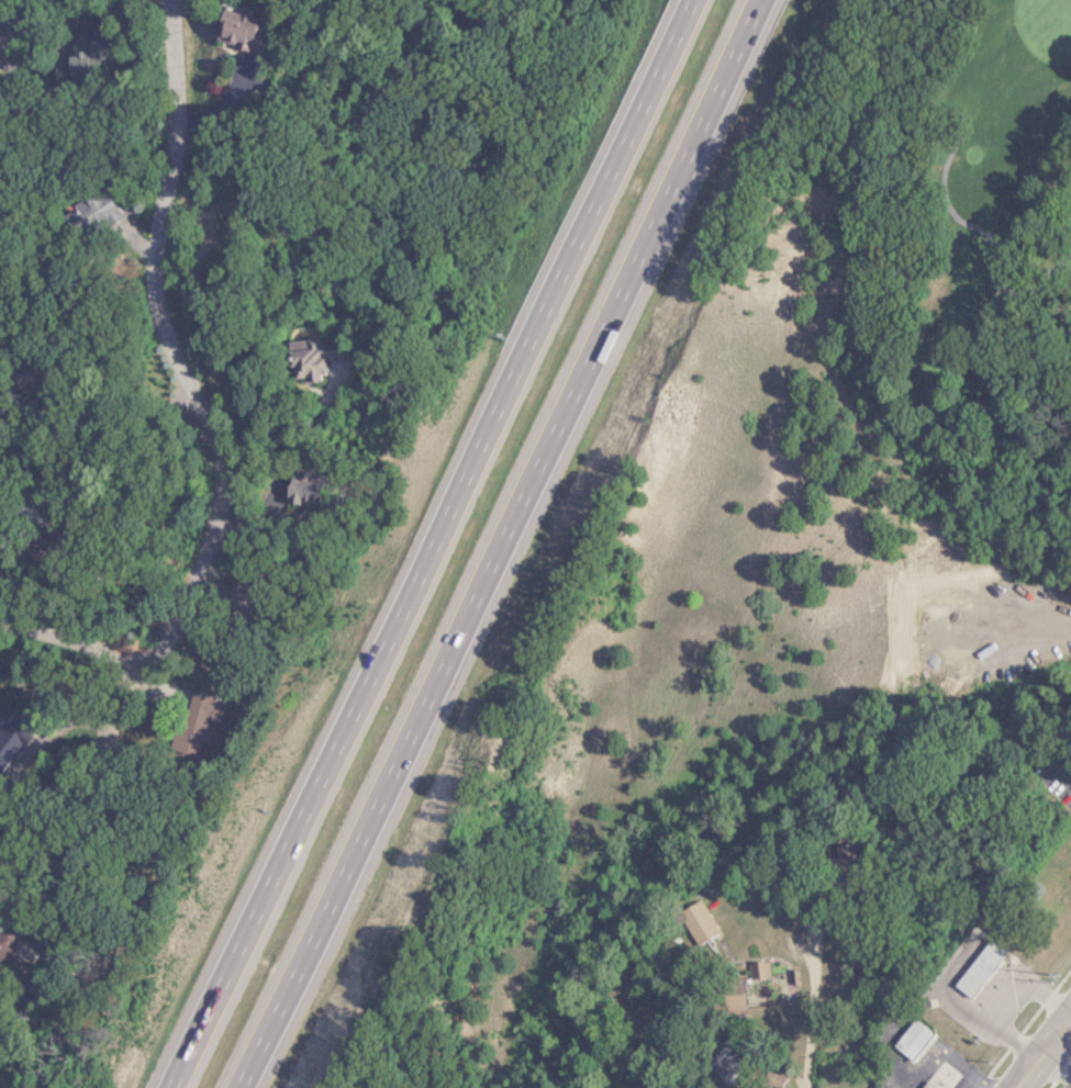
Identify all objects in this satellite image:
building: (237, 29)
park: (970, 225)
road: (993, 243)
building: (310, 363)
road: (205, 449)
building: (290, 489)
road: (15, 503)
road: (498, 543)
road: (429, 545)
building: (230, 594)
road: (65, 661)
building: (197, 714)
building: (693, 922)
building: (977, 967)
building: (754, 969)
road: (805, 1000)
building: (729, 1001)
building: (907, 1039)
road: (1041, 1050)
road: (942, 1059)
road: (1055, 1064)
building: (924, 1085)

